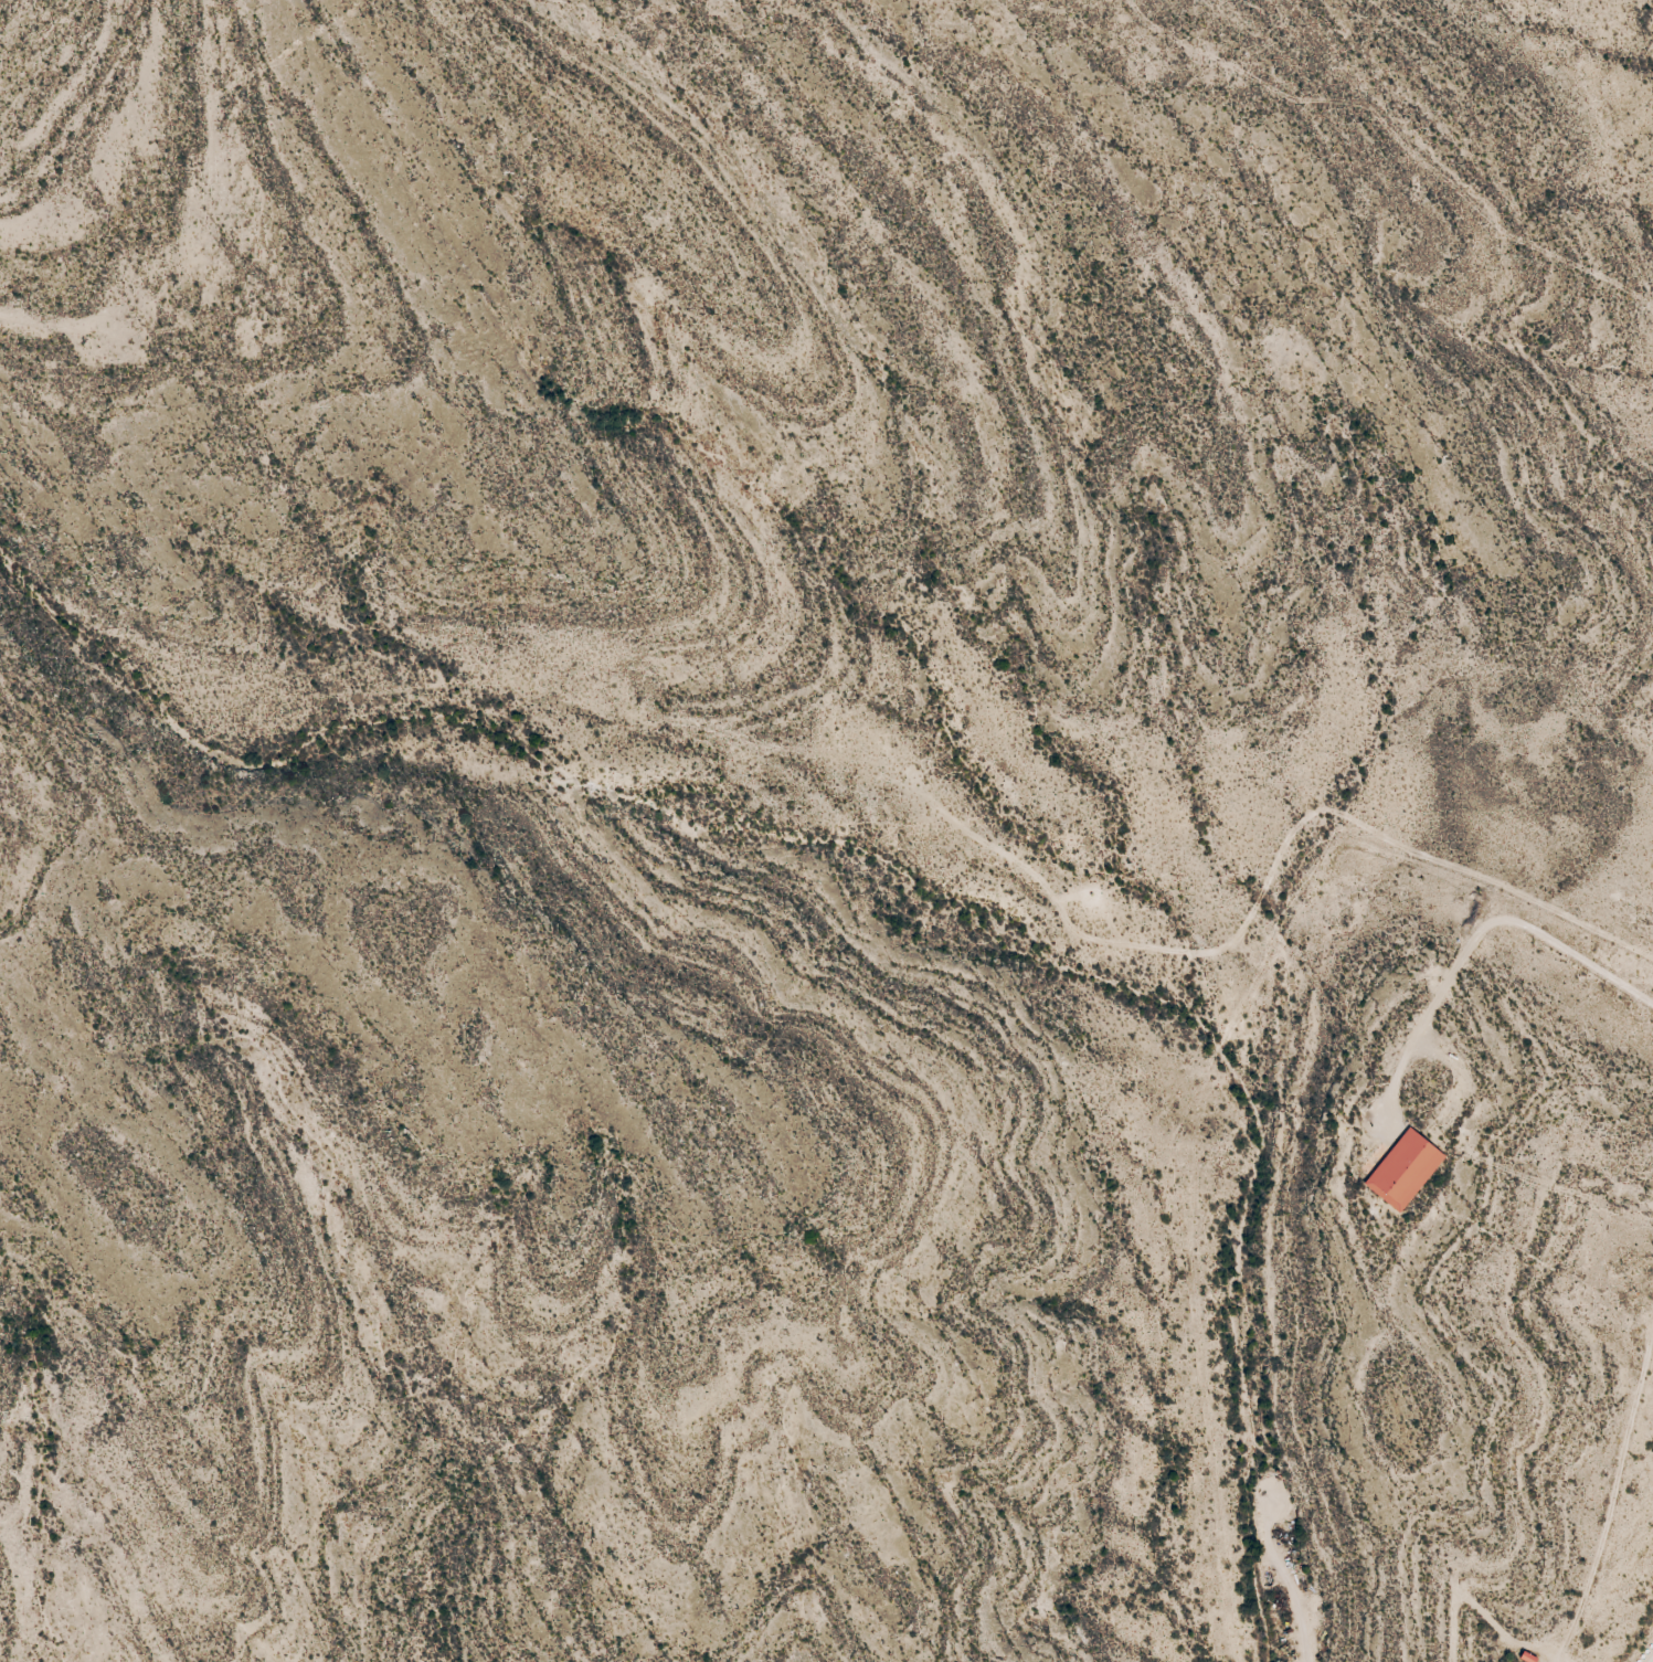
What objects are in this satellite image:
building: (1400, 1178)
road: (1645, 1652)

